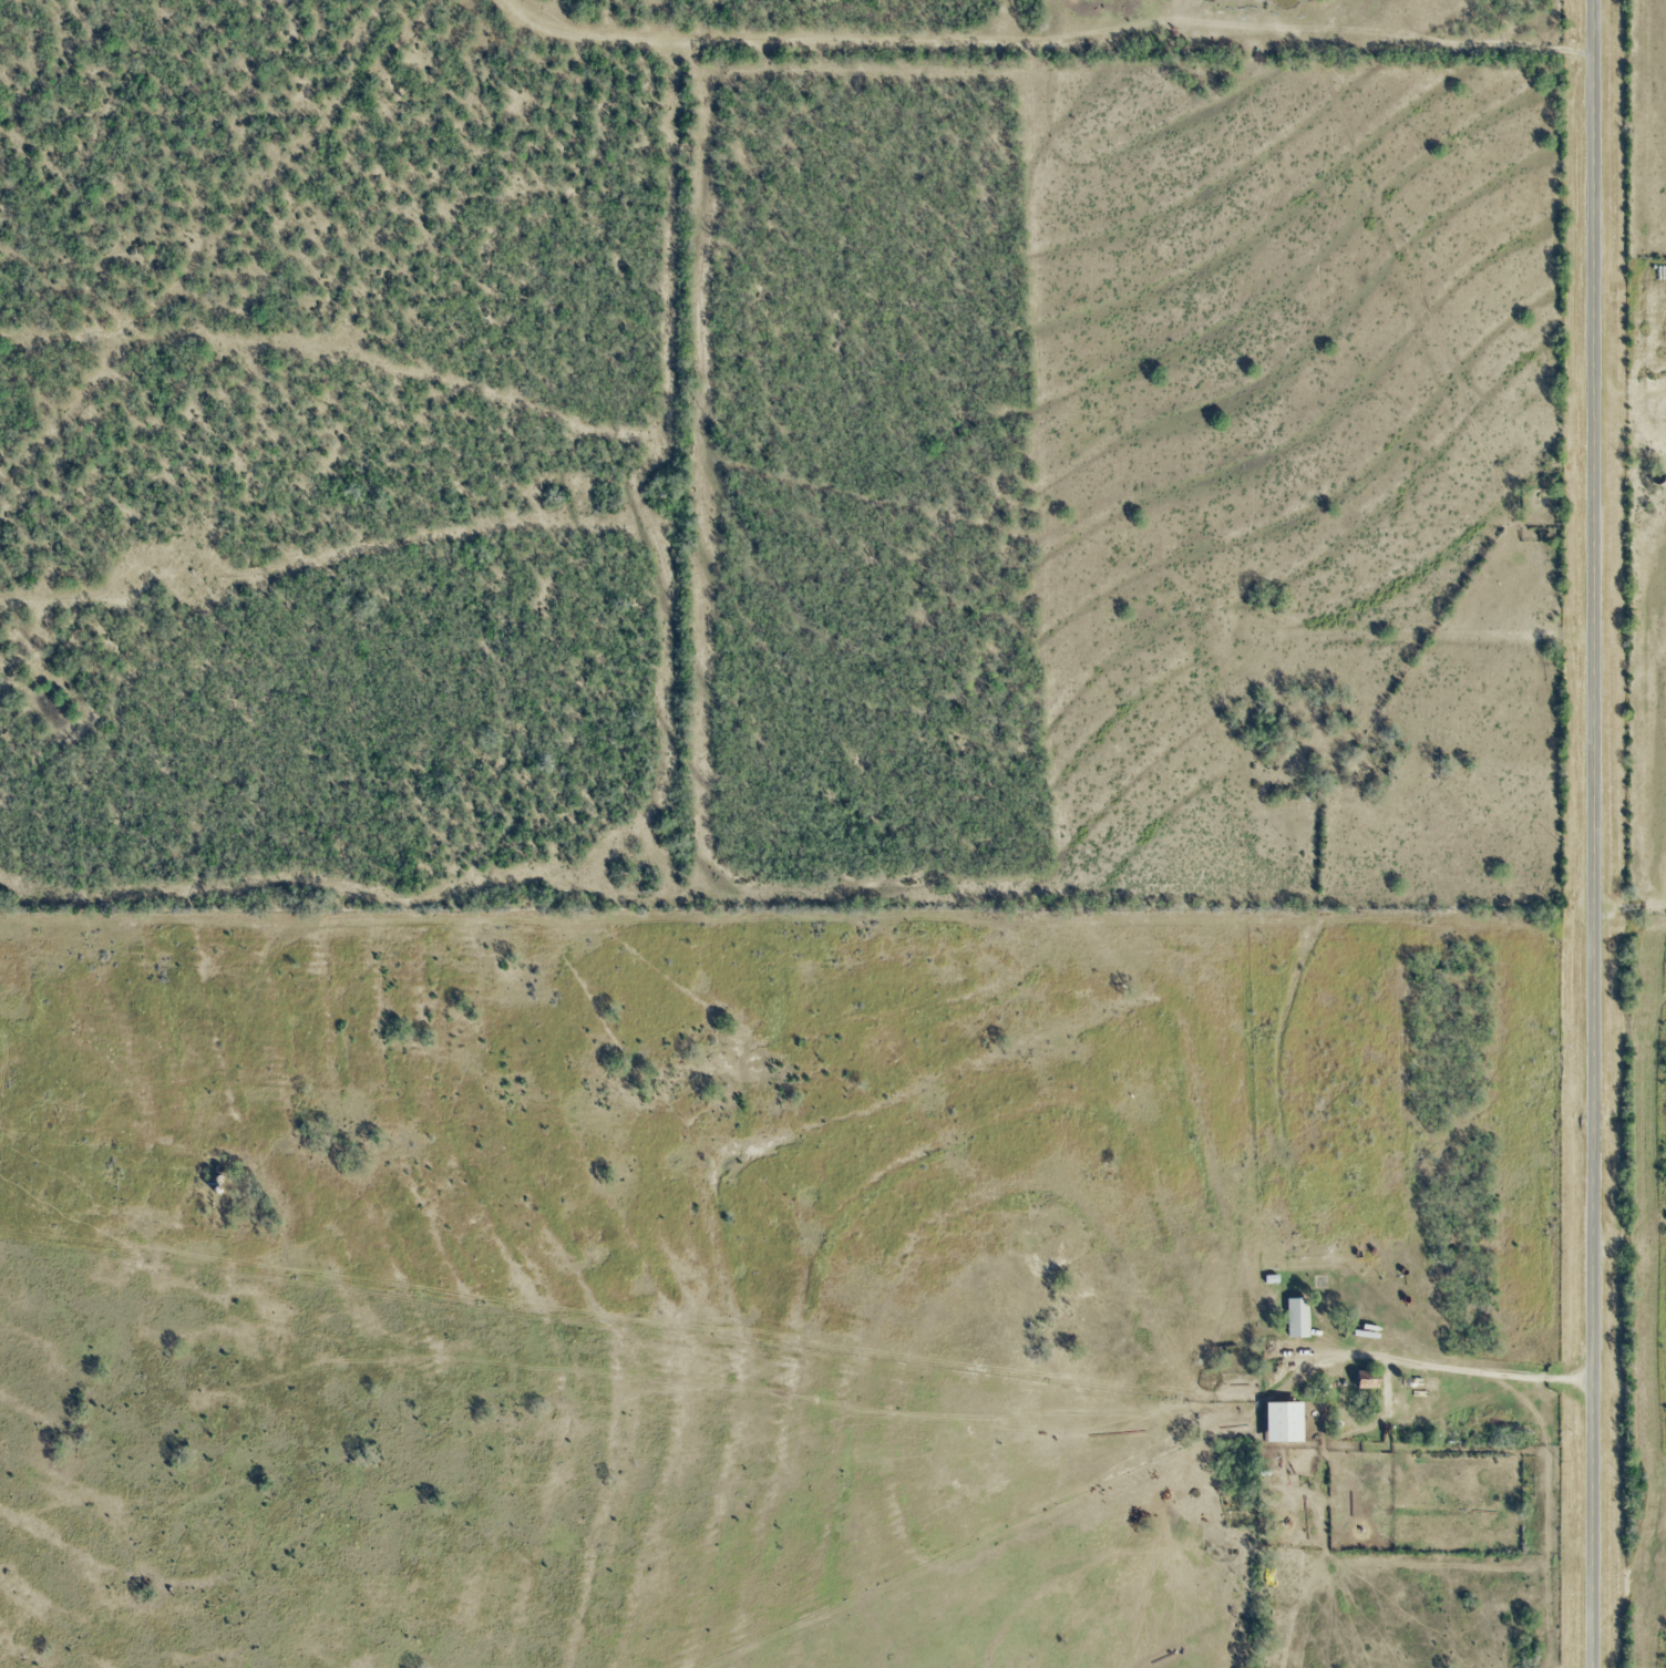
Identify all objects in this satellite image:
road: (1592, 833)
building: (1297, 1315)
road: (1444, 1365)
building: (1365, 1377)
building: (1284, 1420)

